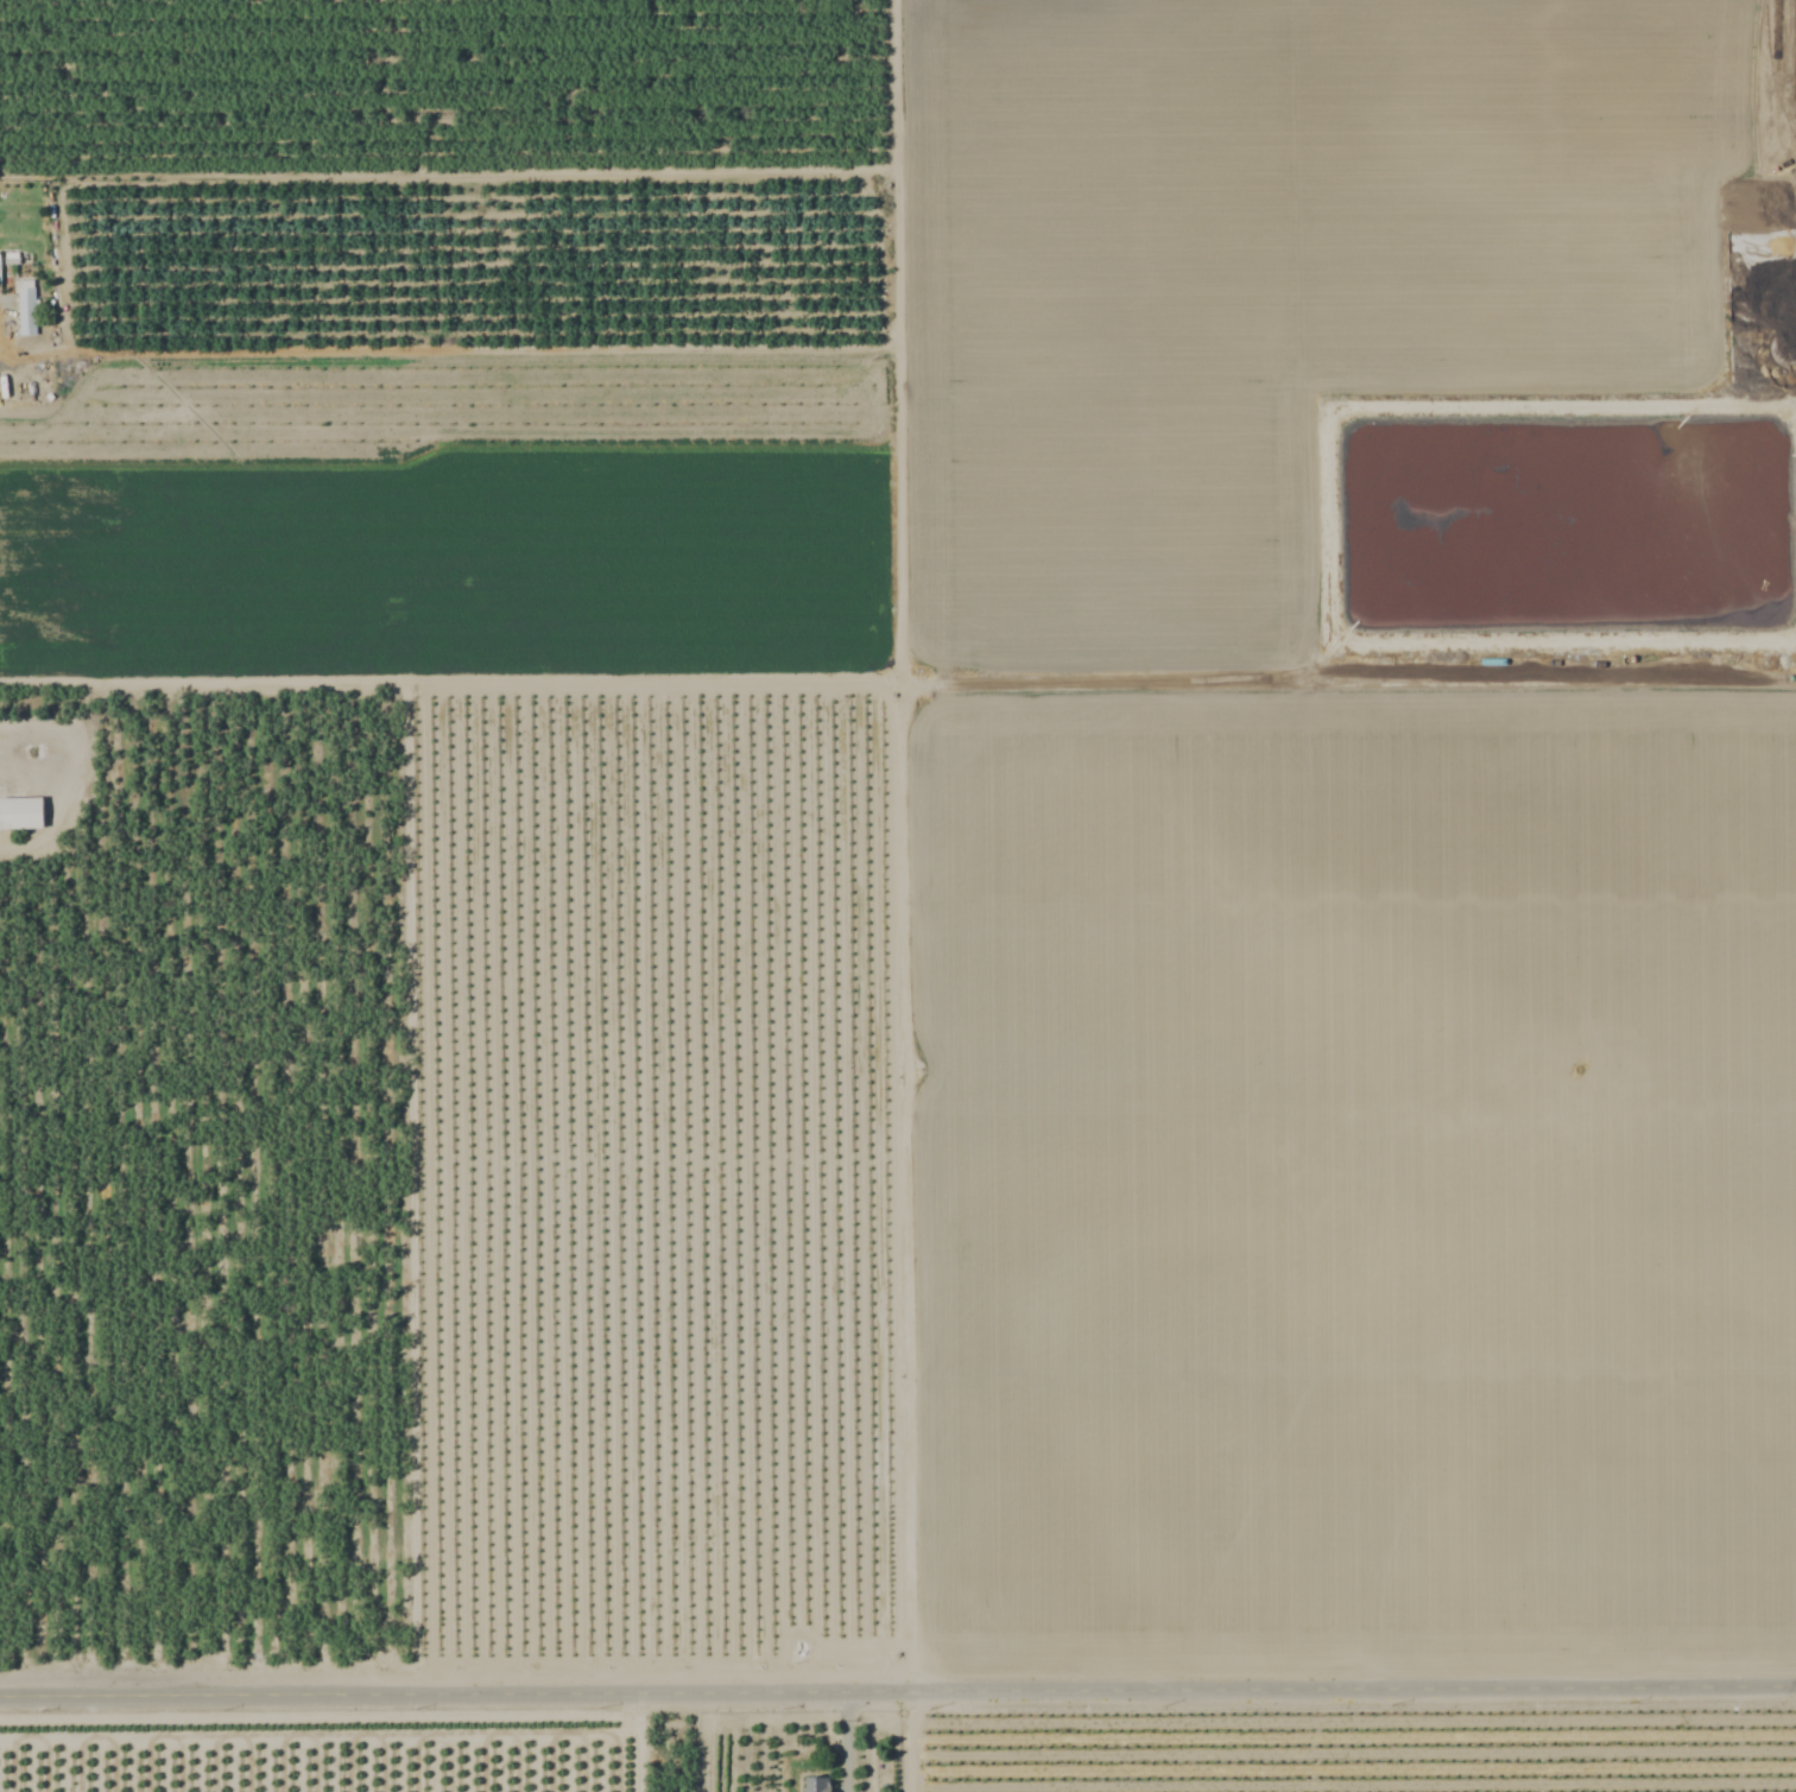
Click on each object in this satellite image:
building: (26, 308)
building: (20, 815)
road: (898, 1692)
building: (816, 1785)

